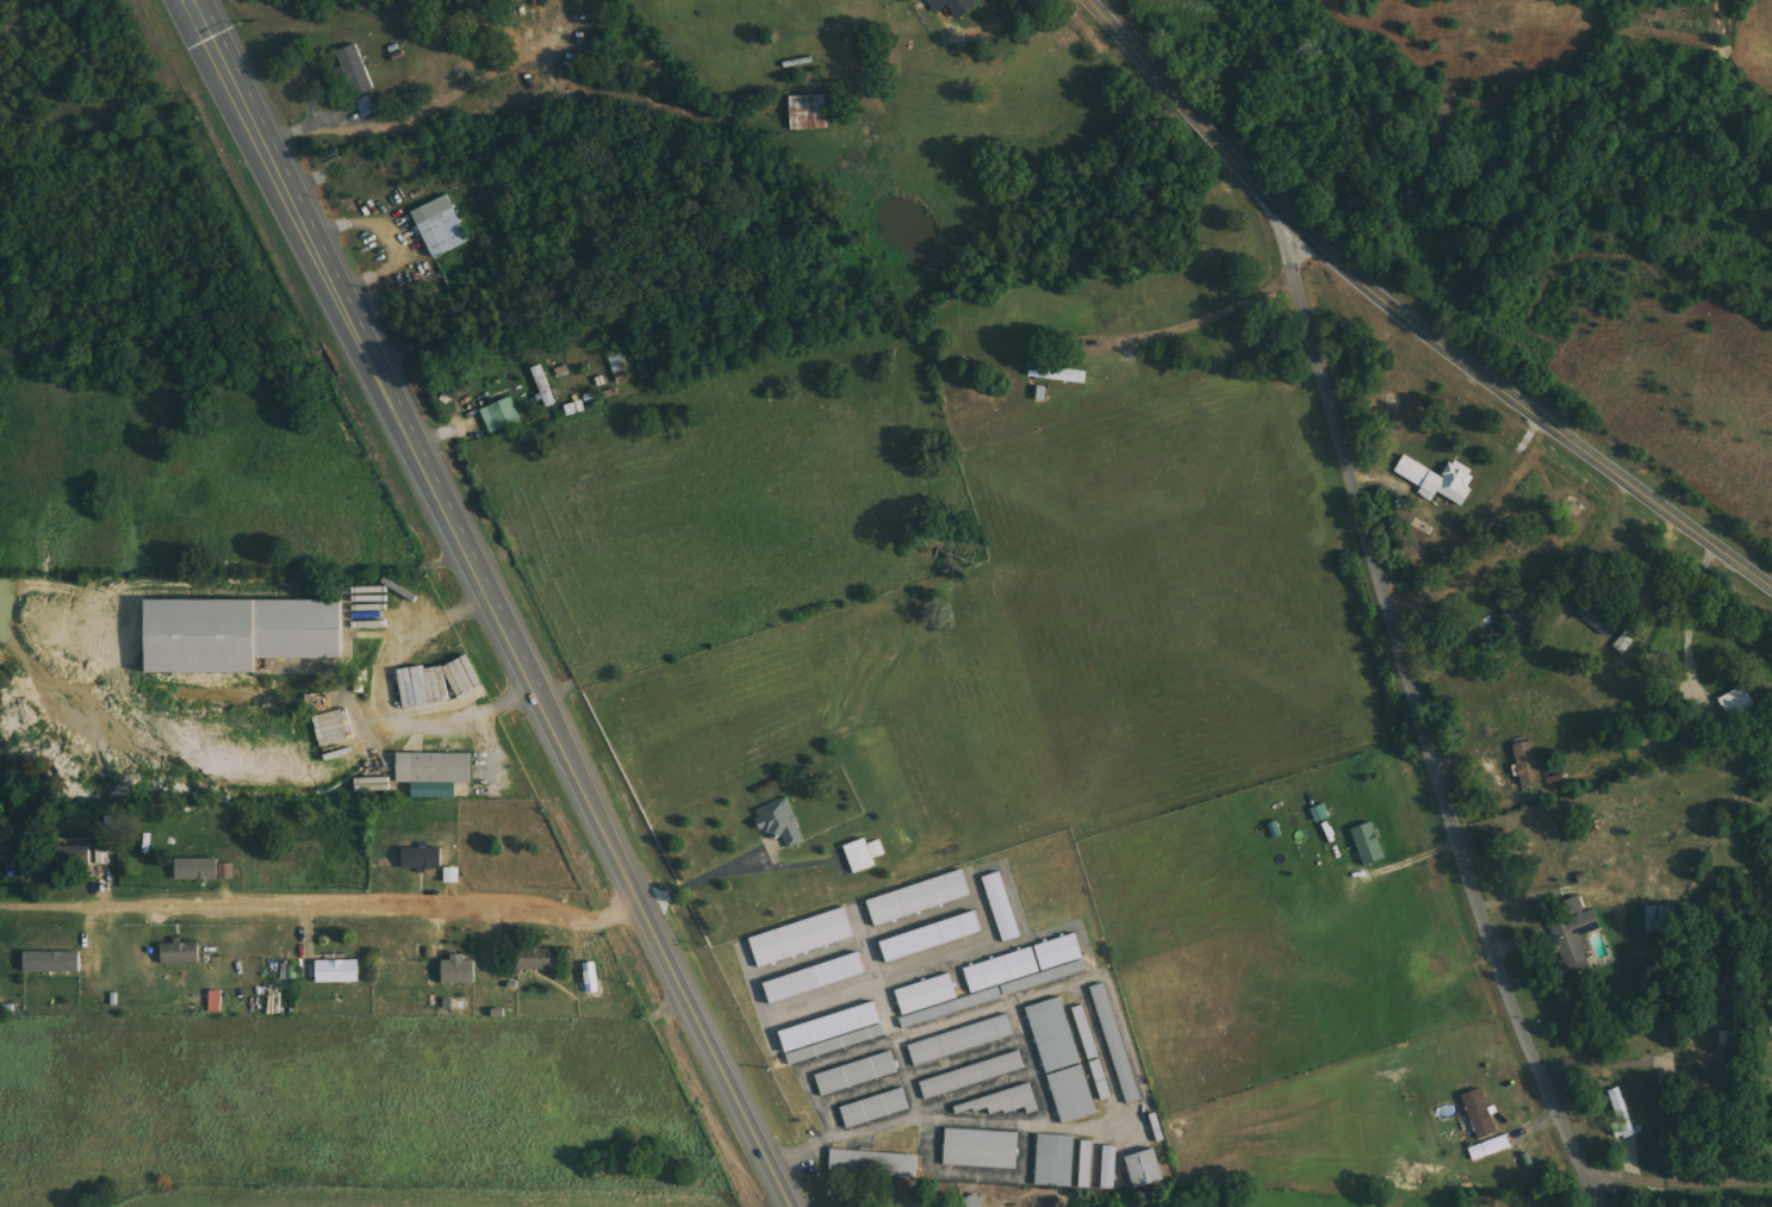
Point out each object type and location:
building: (953, 6)
road: (198, 24)
building: (356, 70)
building: (809, 112)
building: (442, 228)
road: (1406, 317)
road: (373, 369)
building: (1058, 374)
building: (502, 416)
building: (1441, 480)
building: (1598, 616)
building: (1625, 640)
building: (248, 649)
road: (1419, 723)
building: (1528, 763)
building: (436, 773)
building: (373, 784)
building: (1320, 813)
building: (781, 822)
building: (1574, 833)
building: (1369, 844)
building: (864, 854)
building: (73, 856)
building: (104, 857)
building: (423, 858)
building: (15, 869)
building: (198, 869)
building: (226, 871)
building: (453, 875)
building: (919, 898)
building: (927, 913)
building: (1660, 919)
building: (933, 937)
building: (1573, 940)
road: (664, 948)
building: (809, 951)
building: (939, 952)
building: (181, 953)
building: (535, 959)
building: (1025, 959)
building: (54, 962)
building: (338, 971)
building: (460, 971)
building: (817, 977)
building: (822, 993)
building: (216, 1001)
building: (935, 1008)
building: (1086, 1032)
building: (963, 1040)
building: (838, 1041)
building: (969, 1054)
building: (1124, 1057)
building: (857, 1074)
building: (974, 1075)
building: (1070, 1075)
building: (1101, 1080)
building: (864, 1087)
building: (981, 1088)
building: (1006, 1102)
building: (876, 1108)
building: (1480, 1114)
building: (1013, 1115)
building: (1623, 1115)
building: (882, 1121)
building: (1491, 1147)
building: (988, 1162)
building: (1087, 1164)
building: (1109, 1166)
building: (1146, 1169)
building: (1062, 1174)
building: (882, 1175)
building: (1093, 1178)
building: (1117, 1178)
building: (1154, 1183)
building: (972, 1201)

